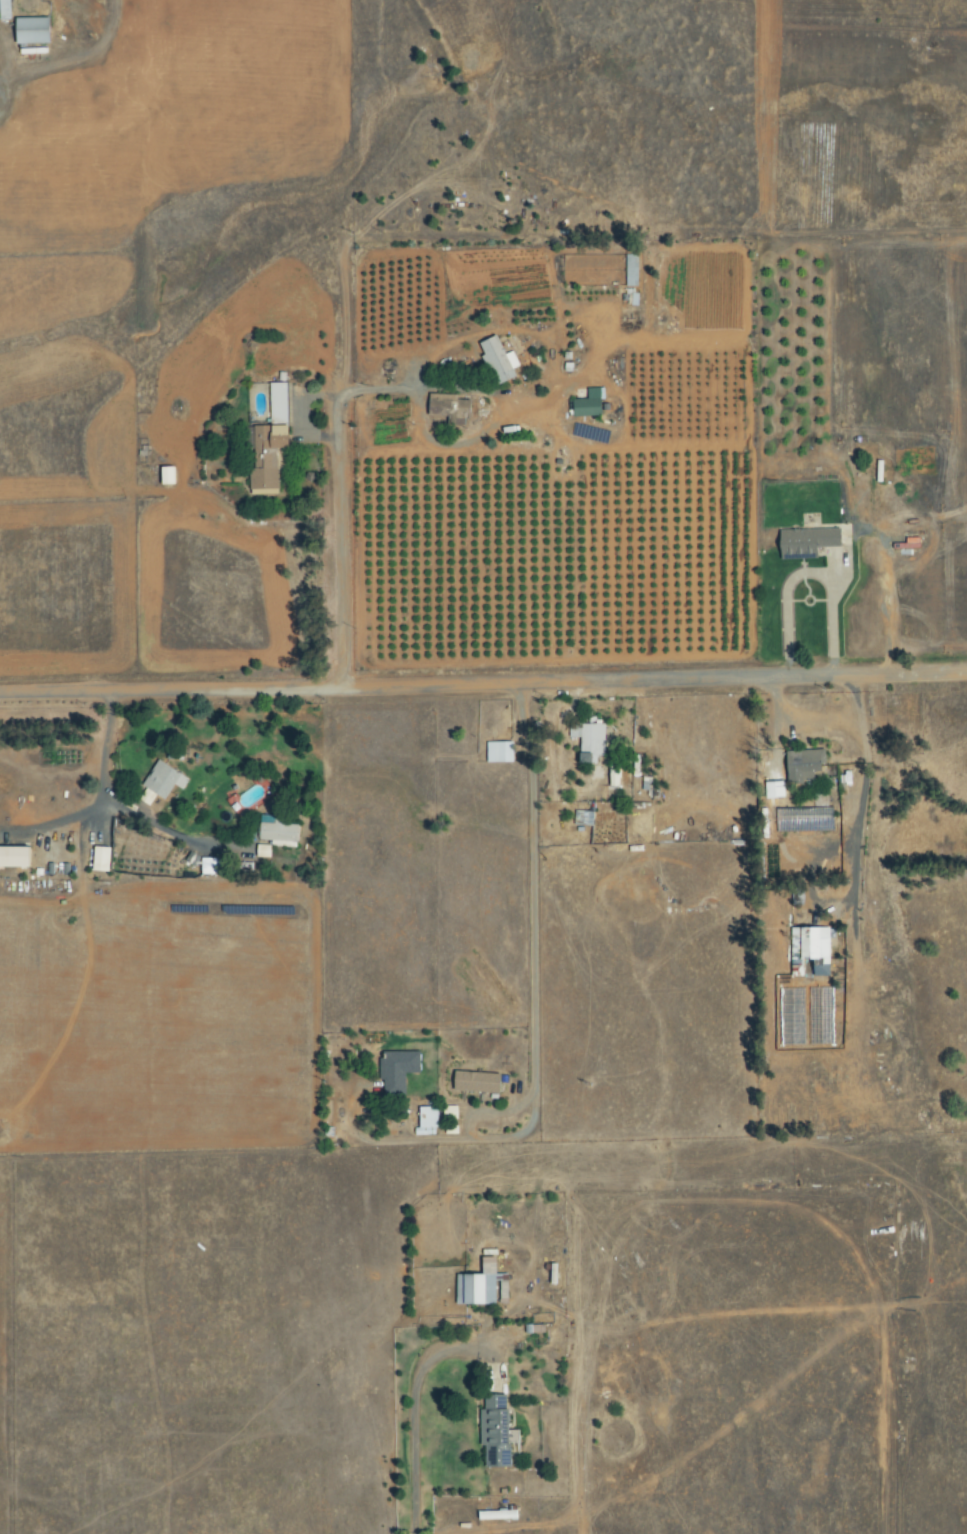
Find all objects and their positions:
building: (36, 30)
building: (502, 360)
road: (327, 372)
building: (590, 407)
building: (452, 409)
building: (274, 440)
building: (170, 475)
building: (808, 543)
building: (911, 544)
road: (483, 684)
building: (591, 740)
building: (501, 752)
building: (806, 765)
building: (166, 780)
building: (777, 790)
road: (95, 796)
building: (276, 835)
building: (17, 857)
building: (103, 859)
building: (213, 866)
road: (533, 1036)
building: (399, 1071)
building: (479, 1082)
building: (430, 1118)
building: (480, 1286)
road: (412, 1430)
building: (494, 1431)

